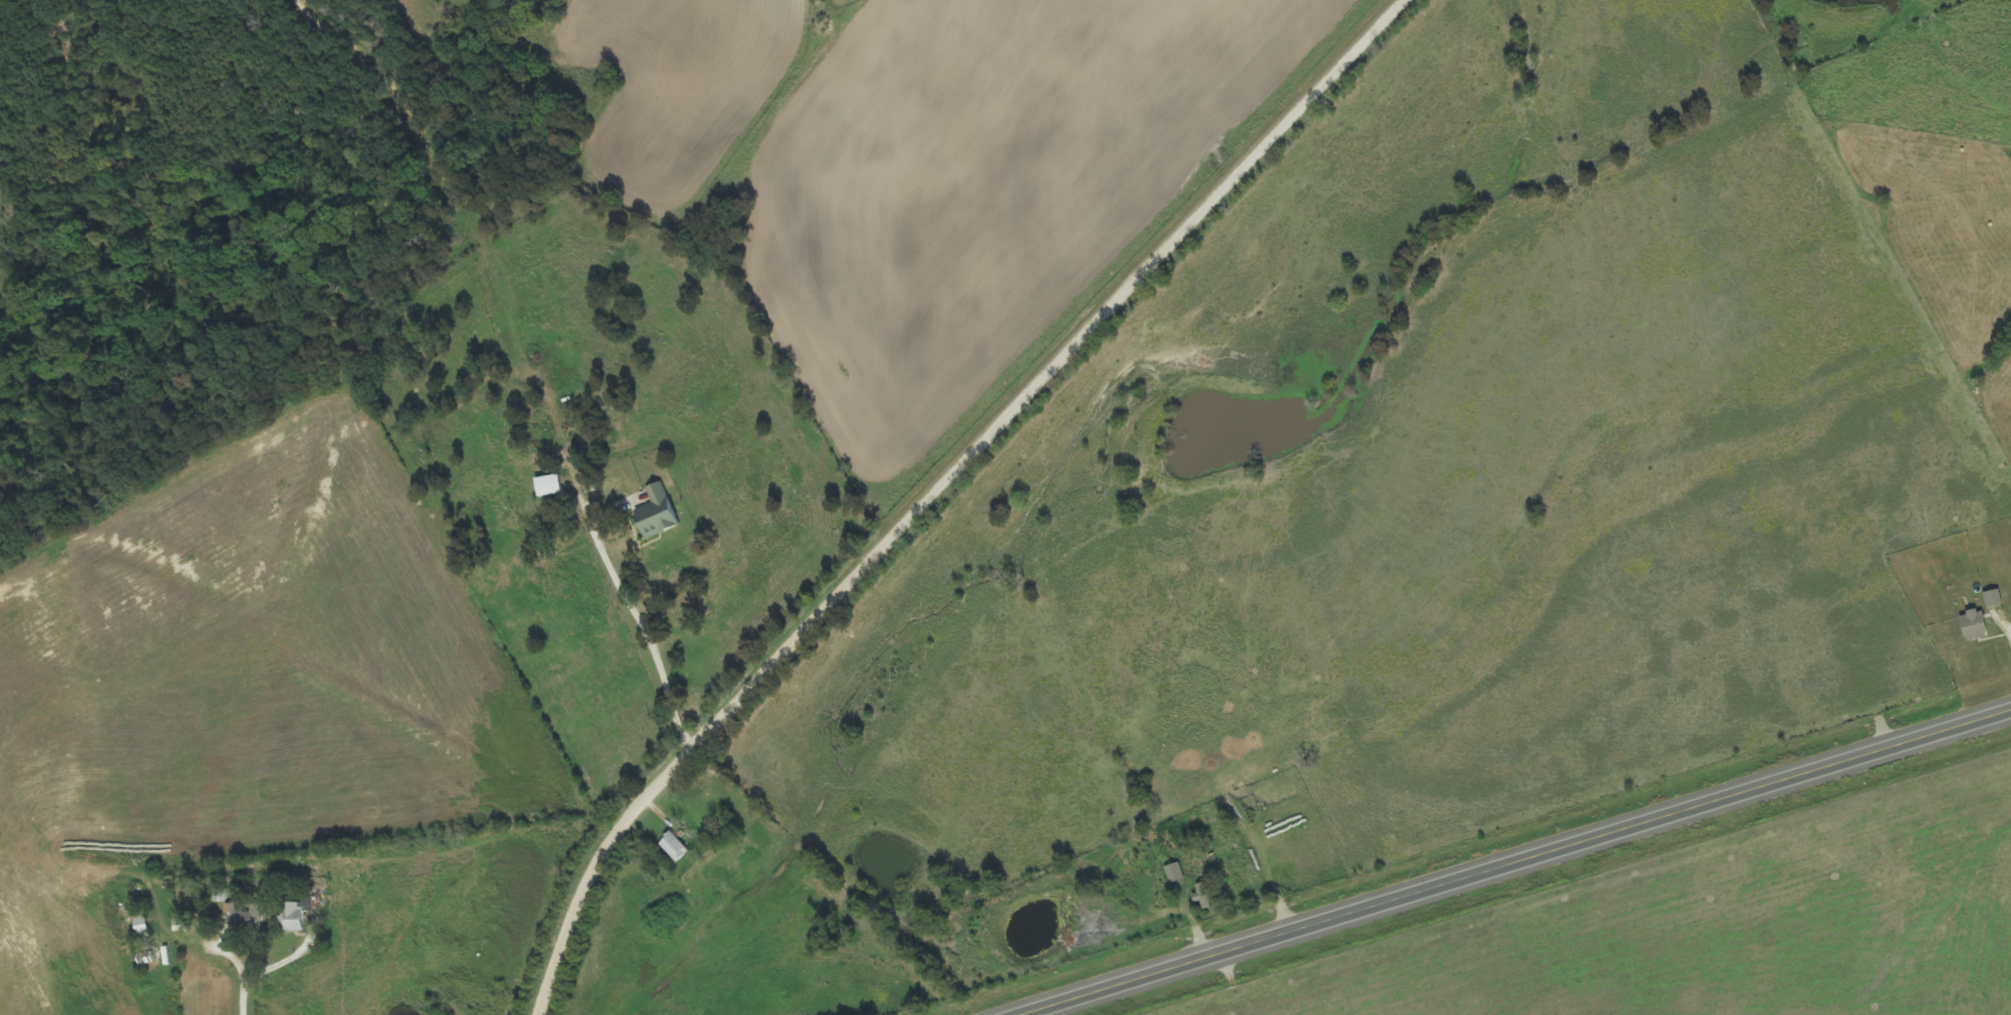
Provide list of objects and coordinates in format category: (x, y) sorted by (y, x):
building: (550, 486)
road: (948, 487)
building: (658, 512)
building: (1994, 598)
building: (1977, 626)
building: (676, 848)
road: (1522, 865)
building: (1175, 874)
building: (1209, 896)
building: (244, 917)
building: (293, 919)

